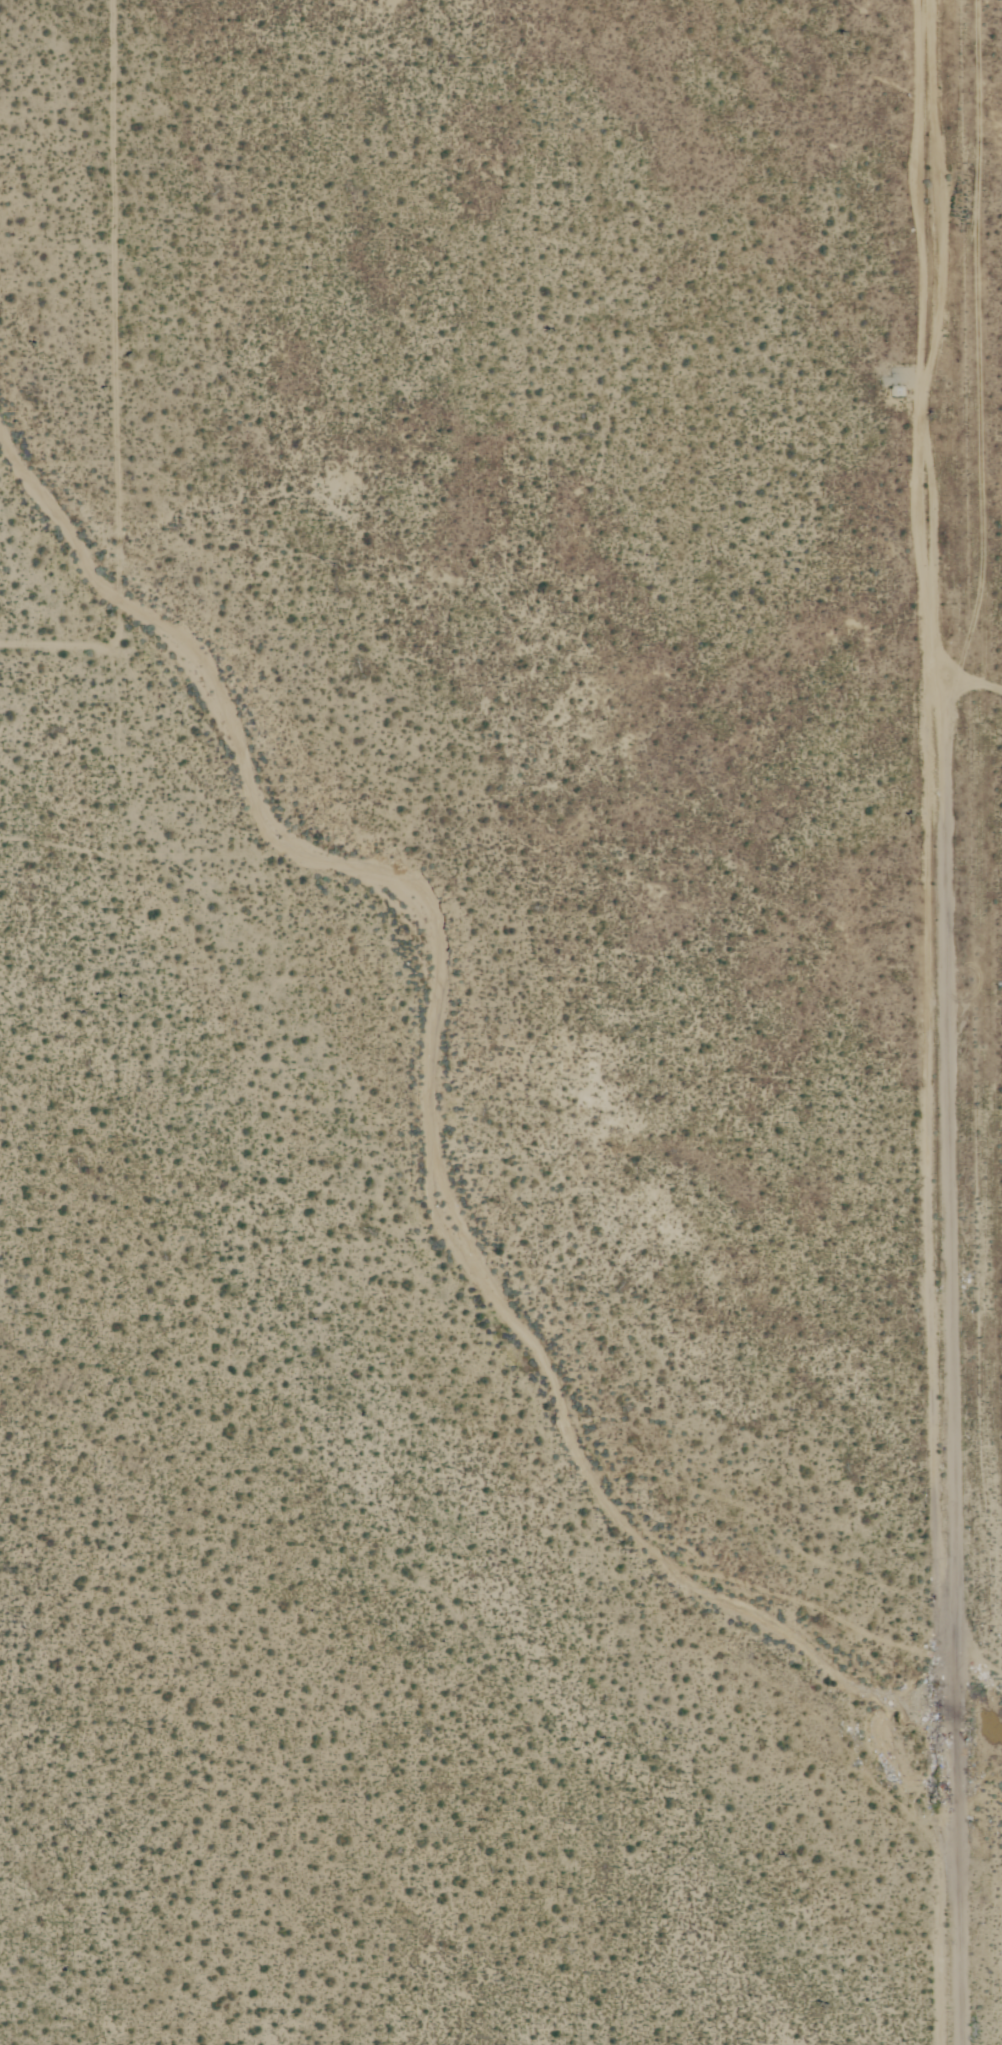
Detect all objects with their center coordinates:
road: (54, 248)
road: (110, 322)
road: (61, 642)
road: (976, 684)
road: (952, 1022)

